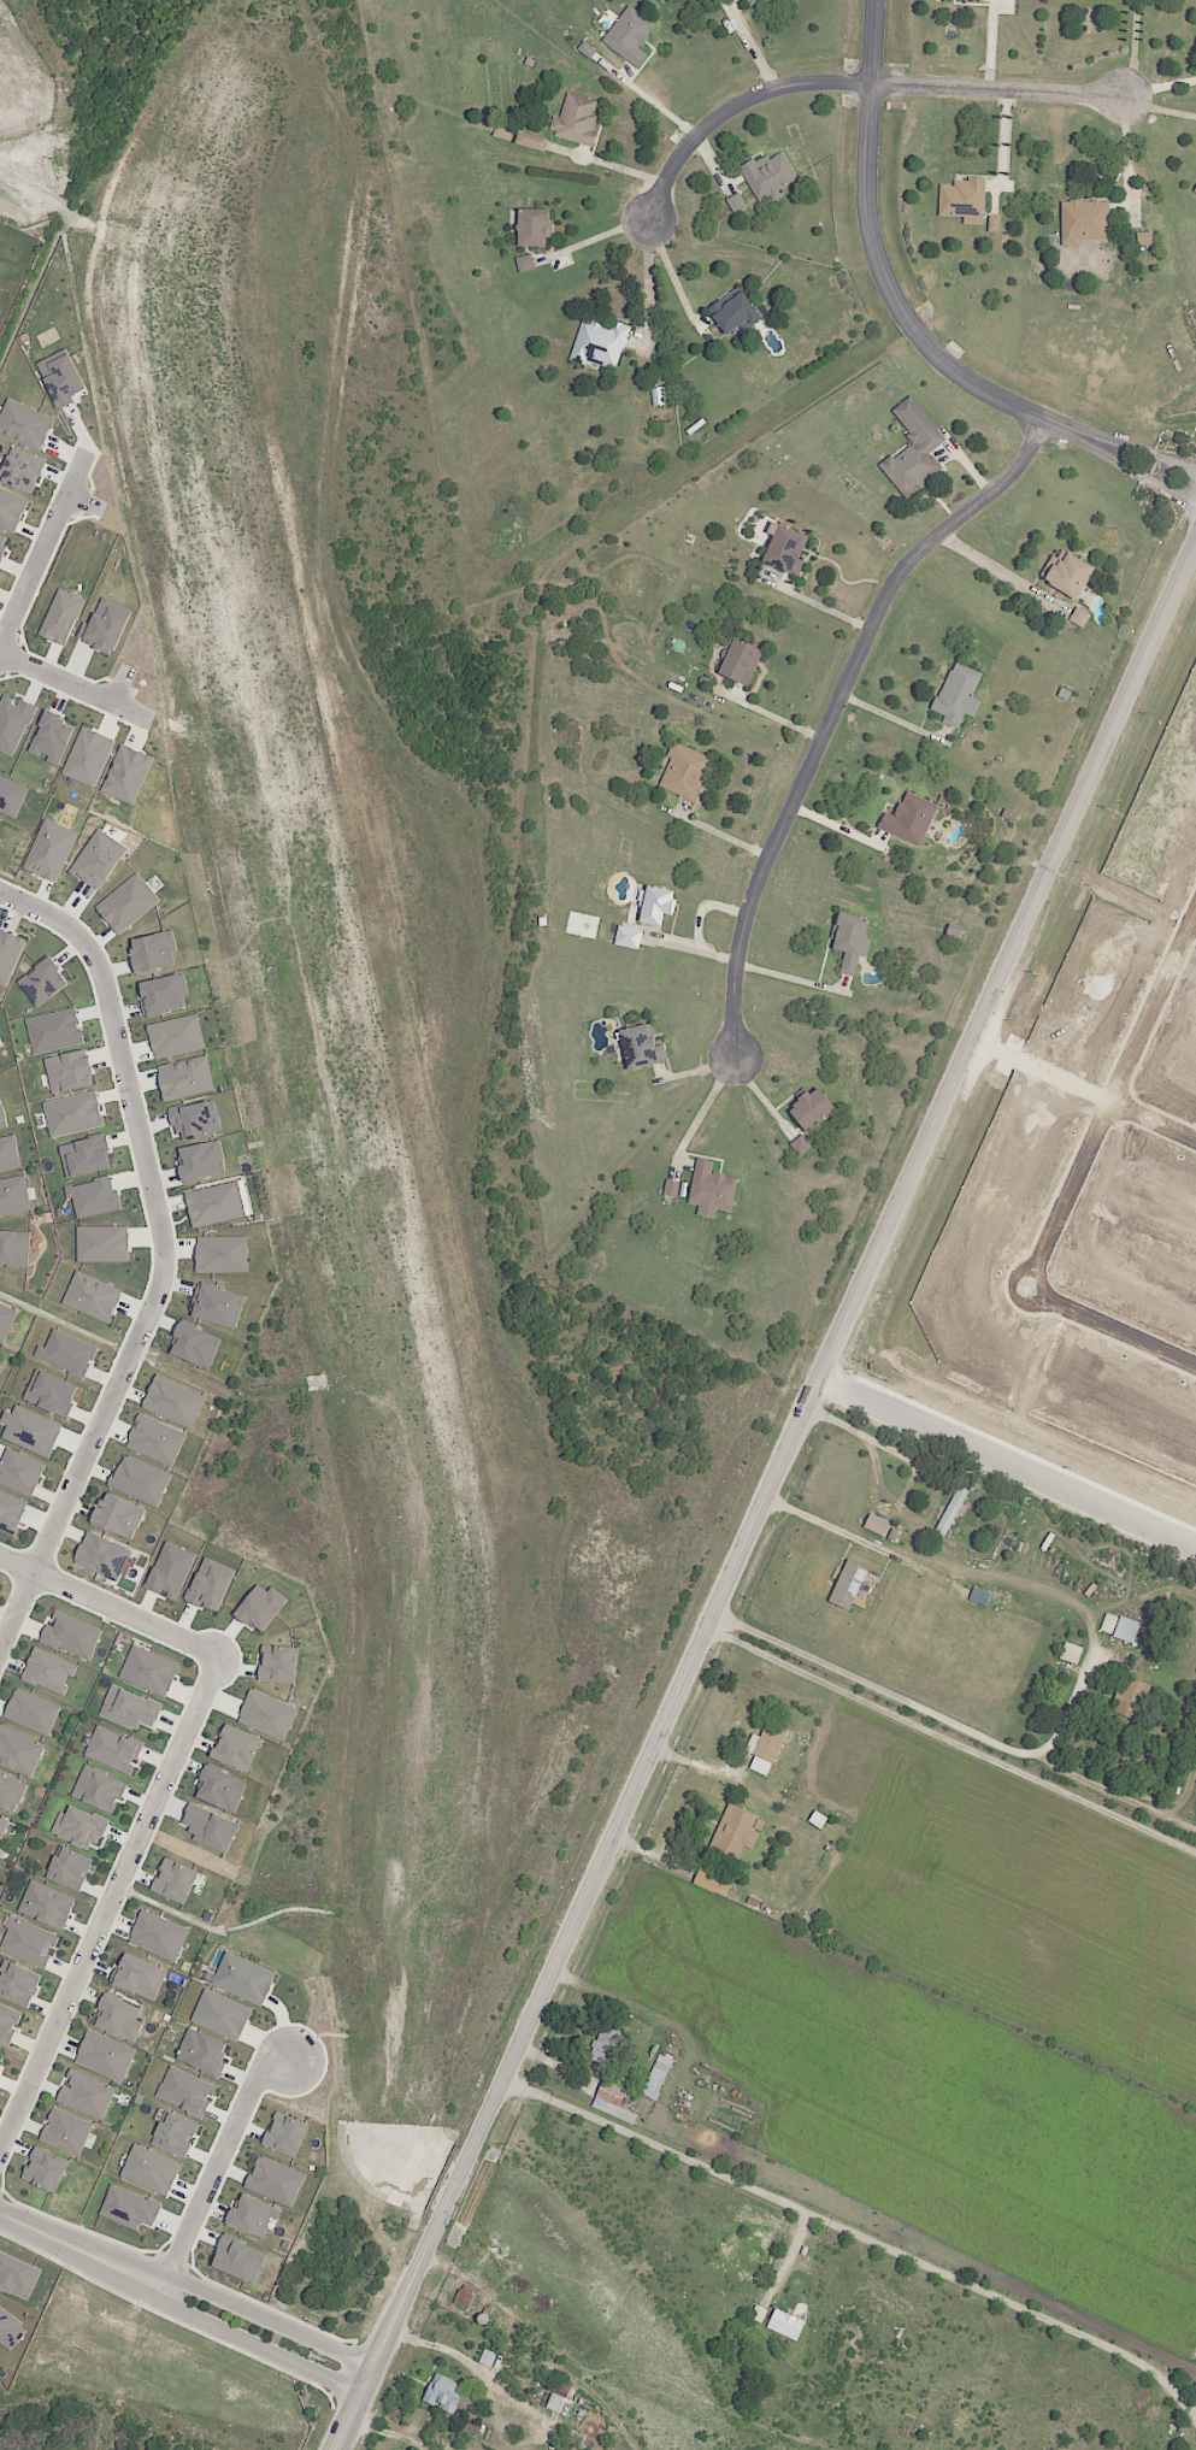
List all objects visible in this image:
building: (747, 0)
building: (965, 0)
building: (629, 35)
road: (1130, 48)
road: (853, 78)
road: (1161, 88)
road: (648, 100)
road: (1160, 110)
building: (575, 120)
building: (502, 131)
building: (531, 141)
road: (1127, 153)
building: (768, 175)
building: (1195, 190)
building: (962, 200)
building: (735, 201)
building: (1083, 220)
building: (992, 223)
building: (532, 226)
building: (1144, 237)
road: (595, 238)
building: (524, 263)
road: (672, 271)
road: (647, 281)
road: (897, 300)
building: (735, 311)
building: (599, 343)
building: (60, 378)
building: (658, 396)
building: (24, 425)
building: (913, 449)
building: (20, 471)
road: (1171, 475)
building: (11, 510)
building: (2, 544)
building: (785, 549)
road: (46, 563)
road: (1001, 571)
building: (1066, 572)
road: (826, 608)
building: (61, 616)
building: (1079, 617)
building: (105, 626)
building: (740, 660)
road: (77, 685)
building: (958, 694)
road: (841, 707)
road: (777, 714)
road: (895, 718)
building: (13, 723)
building: (51, 737)
building: (88, 756)
building: (684, 771)
building: (126, 773)
building: (11, 796)
building: (908, 819)
road: (719, 832)
building: (49, 849)
building: (96, 859)
building: (126, 903)
building: (655, 905)
building: (628, 937)
building: (850, 941)
building: (153, 950)
building: (8, 954)
road: (791, 977)
building: (42, 982)
building: (164, 994)
building: (54, 1030)
building: (176, 1036)
building: (640, 1047)
road: (1045, 1070)
building: (67, 1071)
building: (184, 1078)
road: (758, 1093)
road: (707, 1103)
road: (1115, 1106)
building: (811, 1108)
building: (72, 1113)
building: (1, 1115)
building: (195, 1119)
road: (1156, 1119)
building: (800, 1144)
building: (8, 1153)
building: (84, 1155)
building: (201, 1160)
building: (671, 1188)
building: (711, 1189)
building: (13, 1195)
building: (94, 1197)
building: (218, 1203)
building: (102, 1243)
building: (14, 1248)
building: (222, 1254)
road: (170, 1262)
building: (92, 1296)
building: (217, 1304)
building: (5, 1320)
road: (1117, 1325)
building: (195, 1344)
building: (66, 1353)
building: (51, 1392)
building: (173, 1401)
building: (30, 1430)
road: (861, 1433)
building: (155, 1439)
building: (19, 1471)
building: (140, 1480)
road: (764, 1497)
building: (952, 1509)
building: (11, 1512)
building: (118, 1515)
road: (814, 1520)
building: (876, 1524)
building: (101, 1556)
building: (170, 1569)
building: (210, 1584)
building: (848, 1584)
road: (114, 1606)
building: (260, 1607)
building: (1108, 1622)
building: (1126, 1630)
building: (71, 1635)
building: (1071, 1653)
building: (277, 1663)
building: (148, 1669)
building: (48, 1671)
building: (1131, 1698)
building: (129, 1708)
building: (31, 1710)
road: (925, 1712)
building: (267, 1715)
road: (950, 1736)
building: (236, 1748)
building: (765, 1748)
building: (113, 1749)
building: (19, 1751)
road: (701, 1765)
building: (99, 1789)
building: (220, 1789)
building: (11, 1791)
building: (2, 1826)
building: (79, 1827)
building: (210, 1828)
building: (733, 1831)
building: (67, 1868)
building: (706, 1879)
building: (175, 1880)
building: (46, 1904)
road: (114, 1909)
building: (158, 1936)
building: (28, 1942)
building: (139, 1977)
building: (243, 1978)
building: (18, 1984)
building: (220, 2014)
building: (118, 2018)
building: (8, 2022)
building: (605, 2044)
building: (202, 2053)
building: (1, 2054)
building: (105, 2055)
building: (656, 2077)
building: (185, 2091)
building: (611, 2092)
building: (86, 2093)
building: (66, 2132)
building: (175, 2133)
building: (285, 2134)
road: (225, 2161)
building: (151, 2169)
building: (275, 2180)
building: (129, 2208)
building: (252, 2215)
road: (858, 2234)
road: (86, 2248)
building: (238, 2258)
building: (17, 2275)
road: (271, 2319)
building: (785, 2324)
building: (11, 2330)
road: (259, 2345)
building: (487, 2357)
building: (444, 2392)
building: (556, 2399)
road: (389, 2432)

